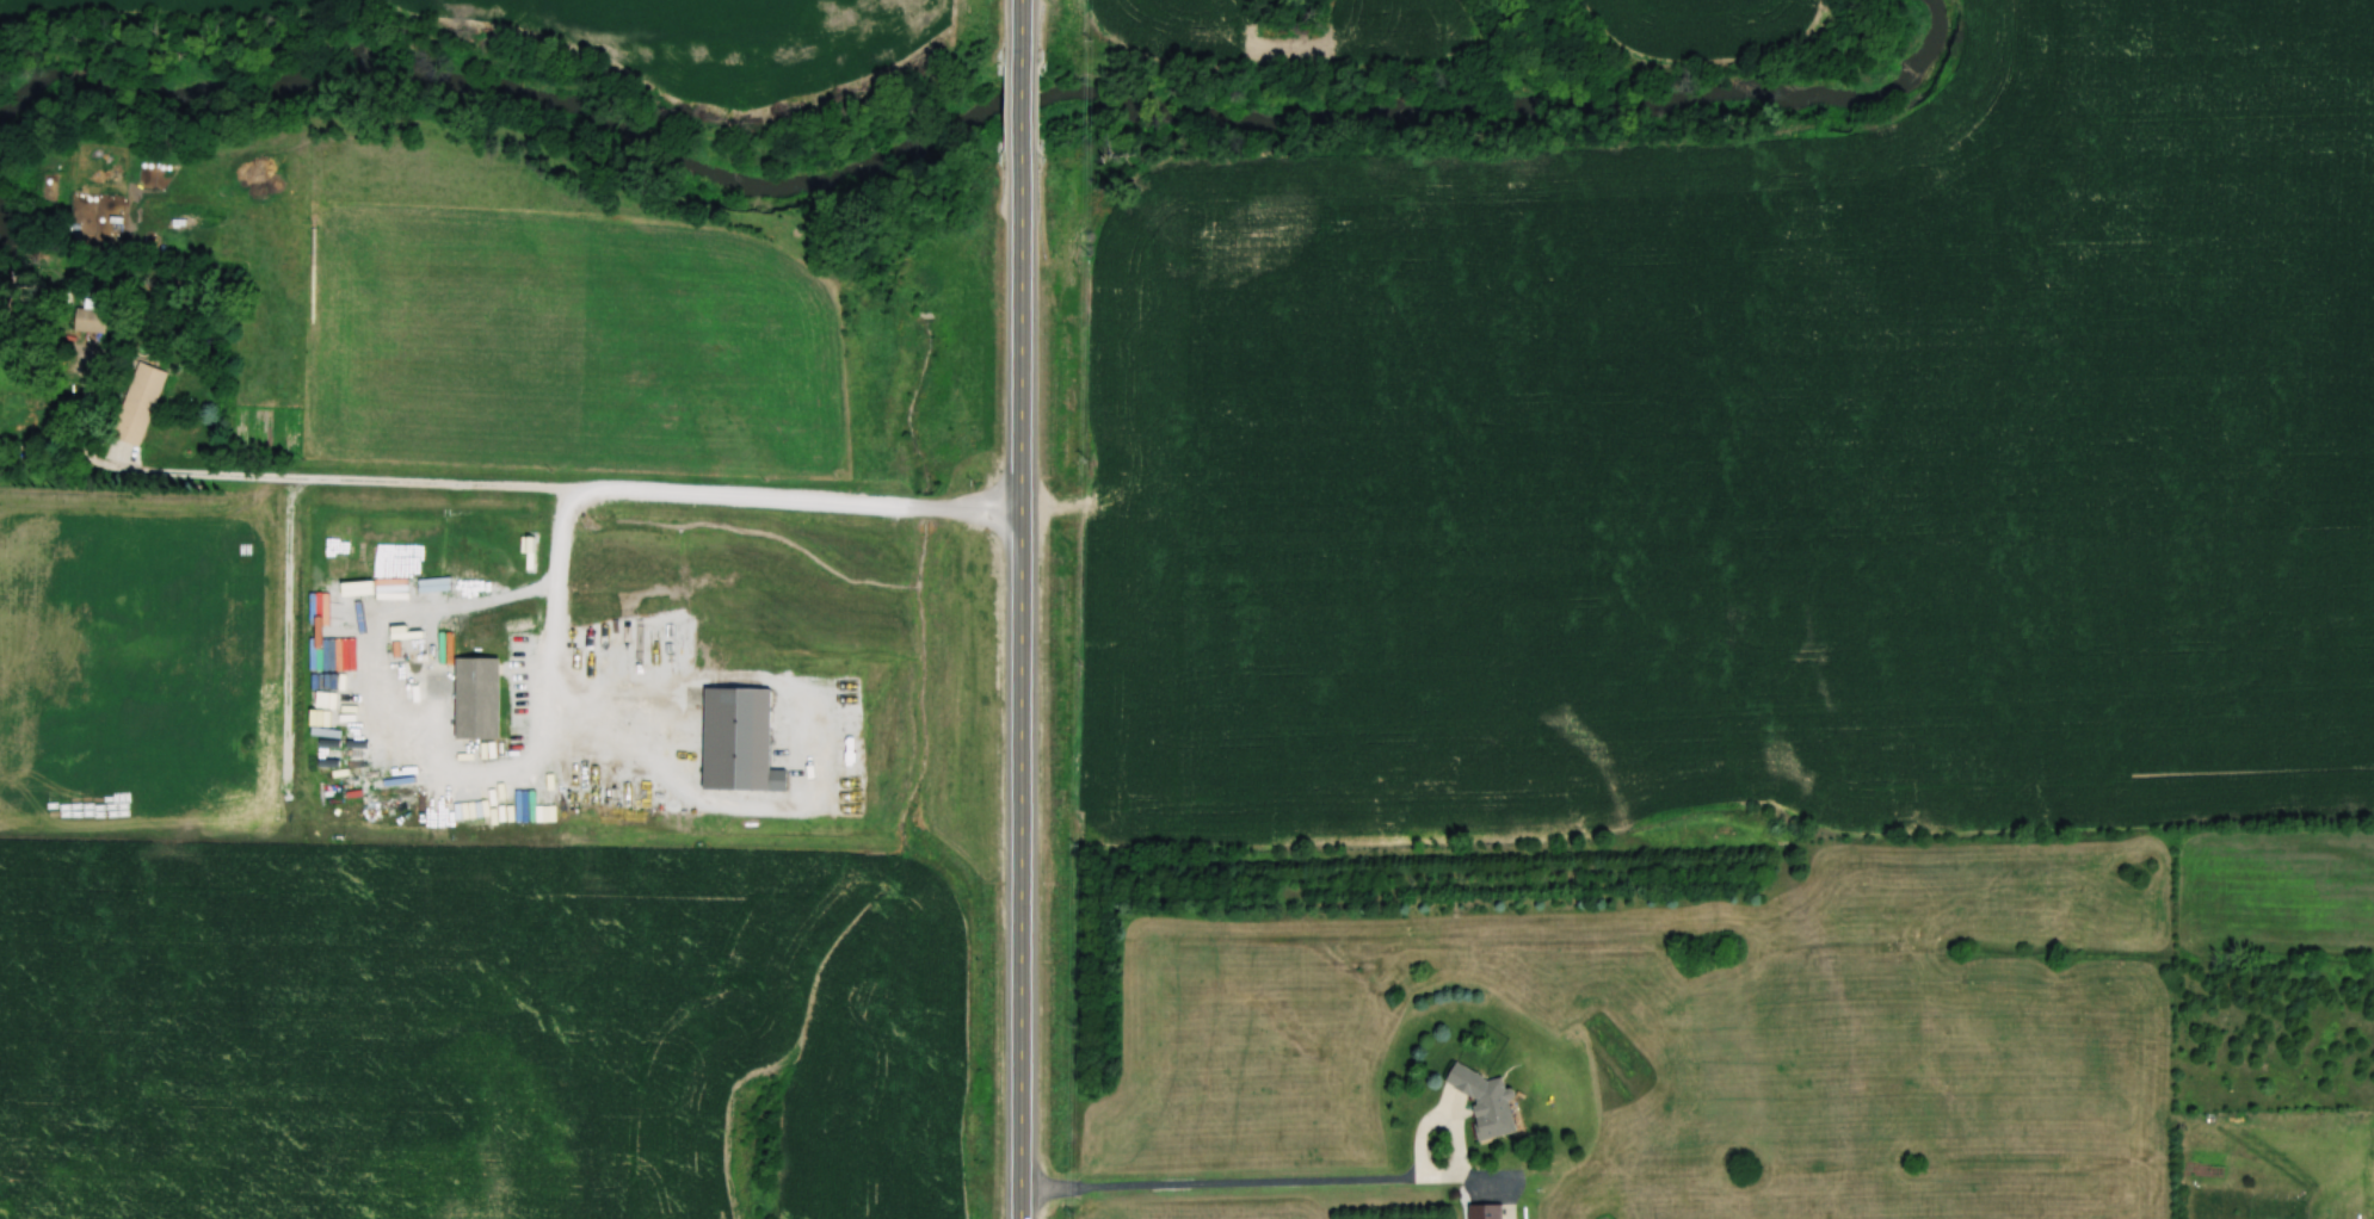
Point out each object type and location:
road: (1025, 41)
road: (1025, 120)
river: (962, 141)
building: (91, 315)
building: (138, 403)
road: (358, 483)
road: (560, 680)
road: (1019, 689)
building: (477, 697)
road: (396, 706)
building: (739, 740)
building: (1485, 1100)
road: (1309, 1181)
building: (1486, 1211)

